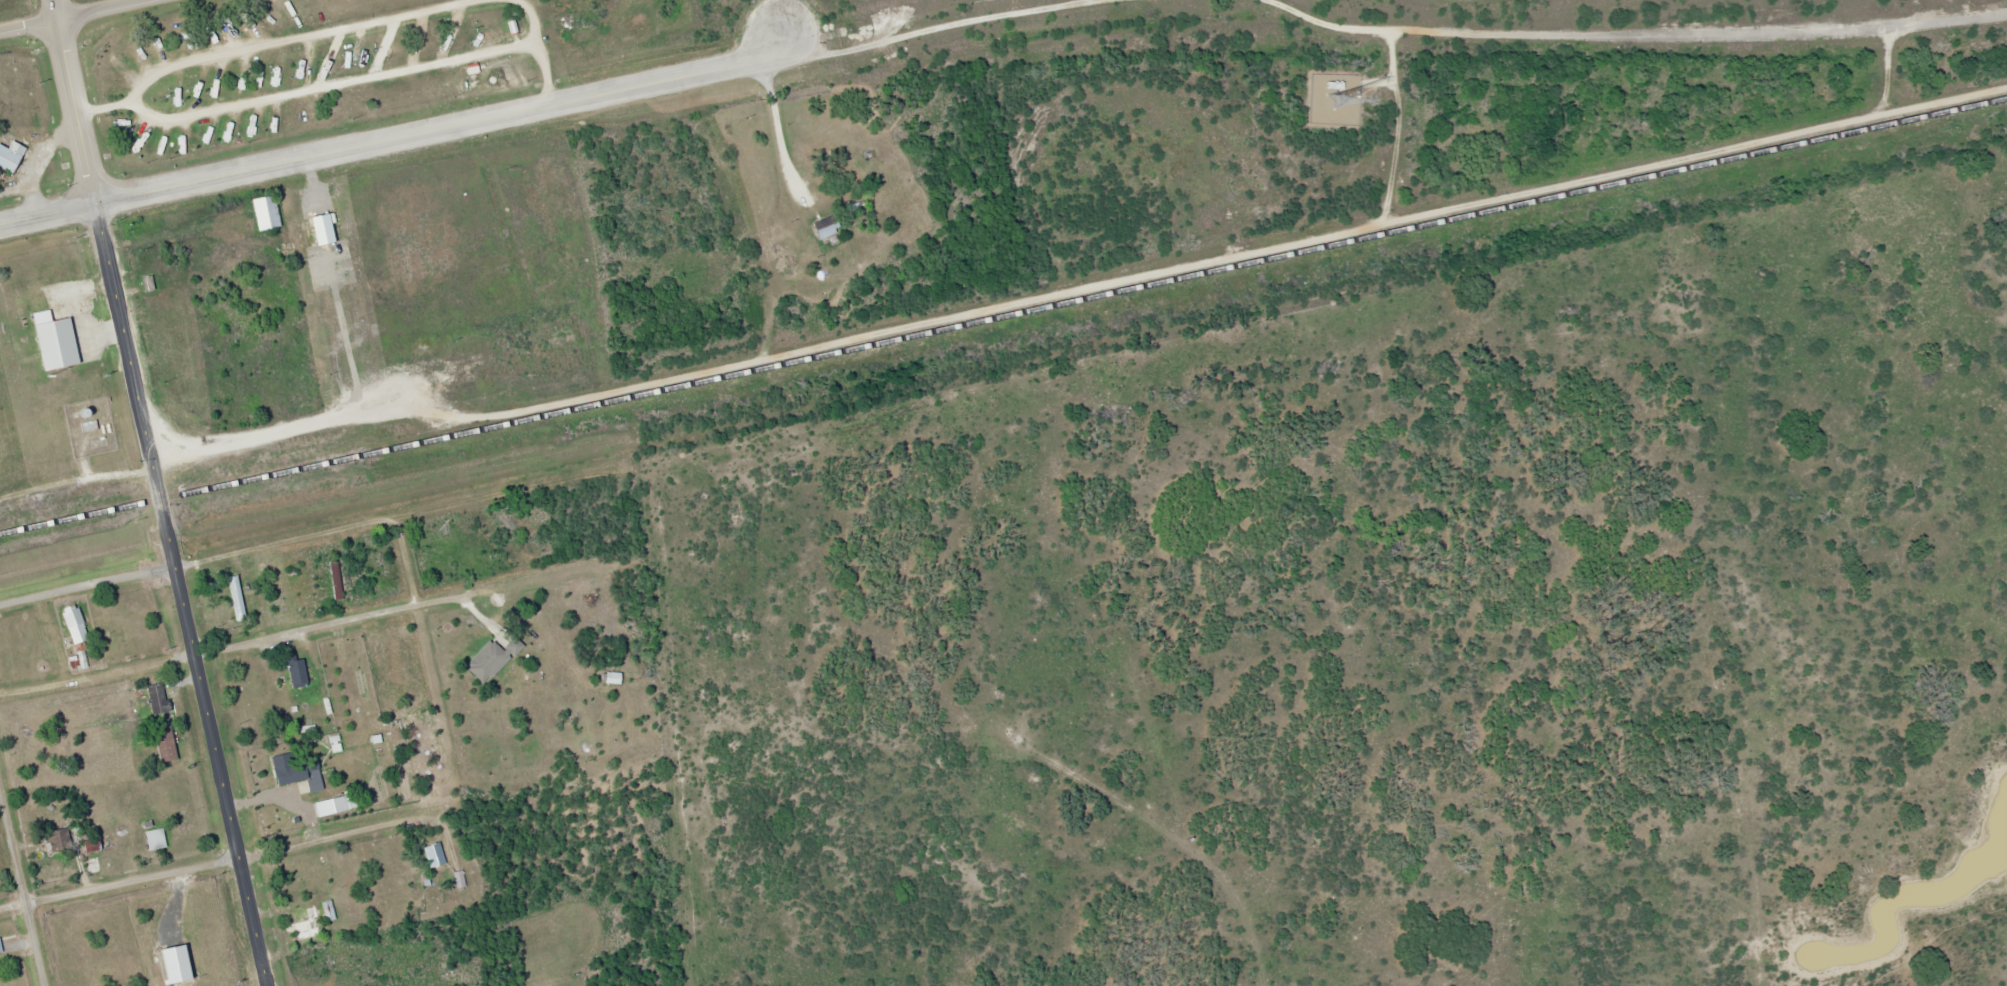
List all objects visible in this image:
road: (57, 9)
road: (101, 9)
road: (529, 21)
road: (29, 25)
road: (296, 39)
road: (333, 84)
building: (1332, 85)
road: (75, 110)
road: (400, 133)
building: (13, 155)
building: (269, 212)
building: (824, 228)
railway: (1003, 314)
building: (74, 339)
building: (83, 414)
storage tank: (83, 414)
building: (90, 425)
road: (317, 529)
building: (334, 583)
road: (180, 593)
building: (235, 596)
road: (328, 620)
building: (78, 635)
road: (96, 669)
building: (293, 670)
building: (161, 698)
building: (169, 745)
building: (295, 775)
building: (344, 802)
road: (333, 834)
building: (158, 838)
building: (62, 839)
building: (432, 854)
building: (458, 879)
road: (118, 882)
road: (22, 883)
building: (327, 910)
building: (302, 925)

